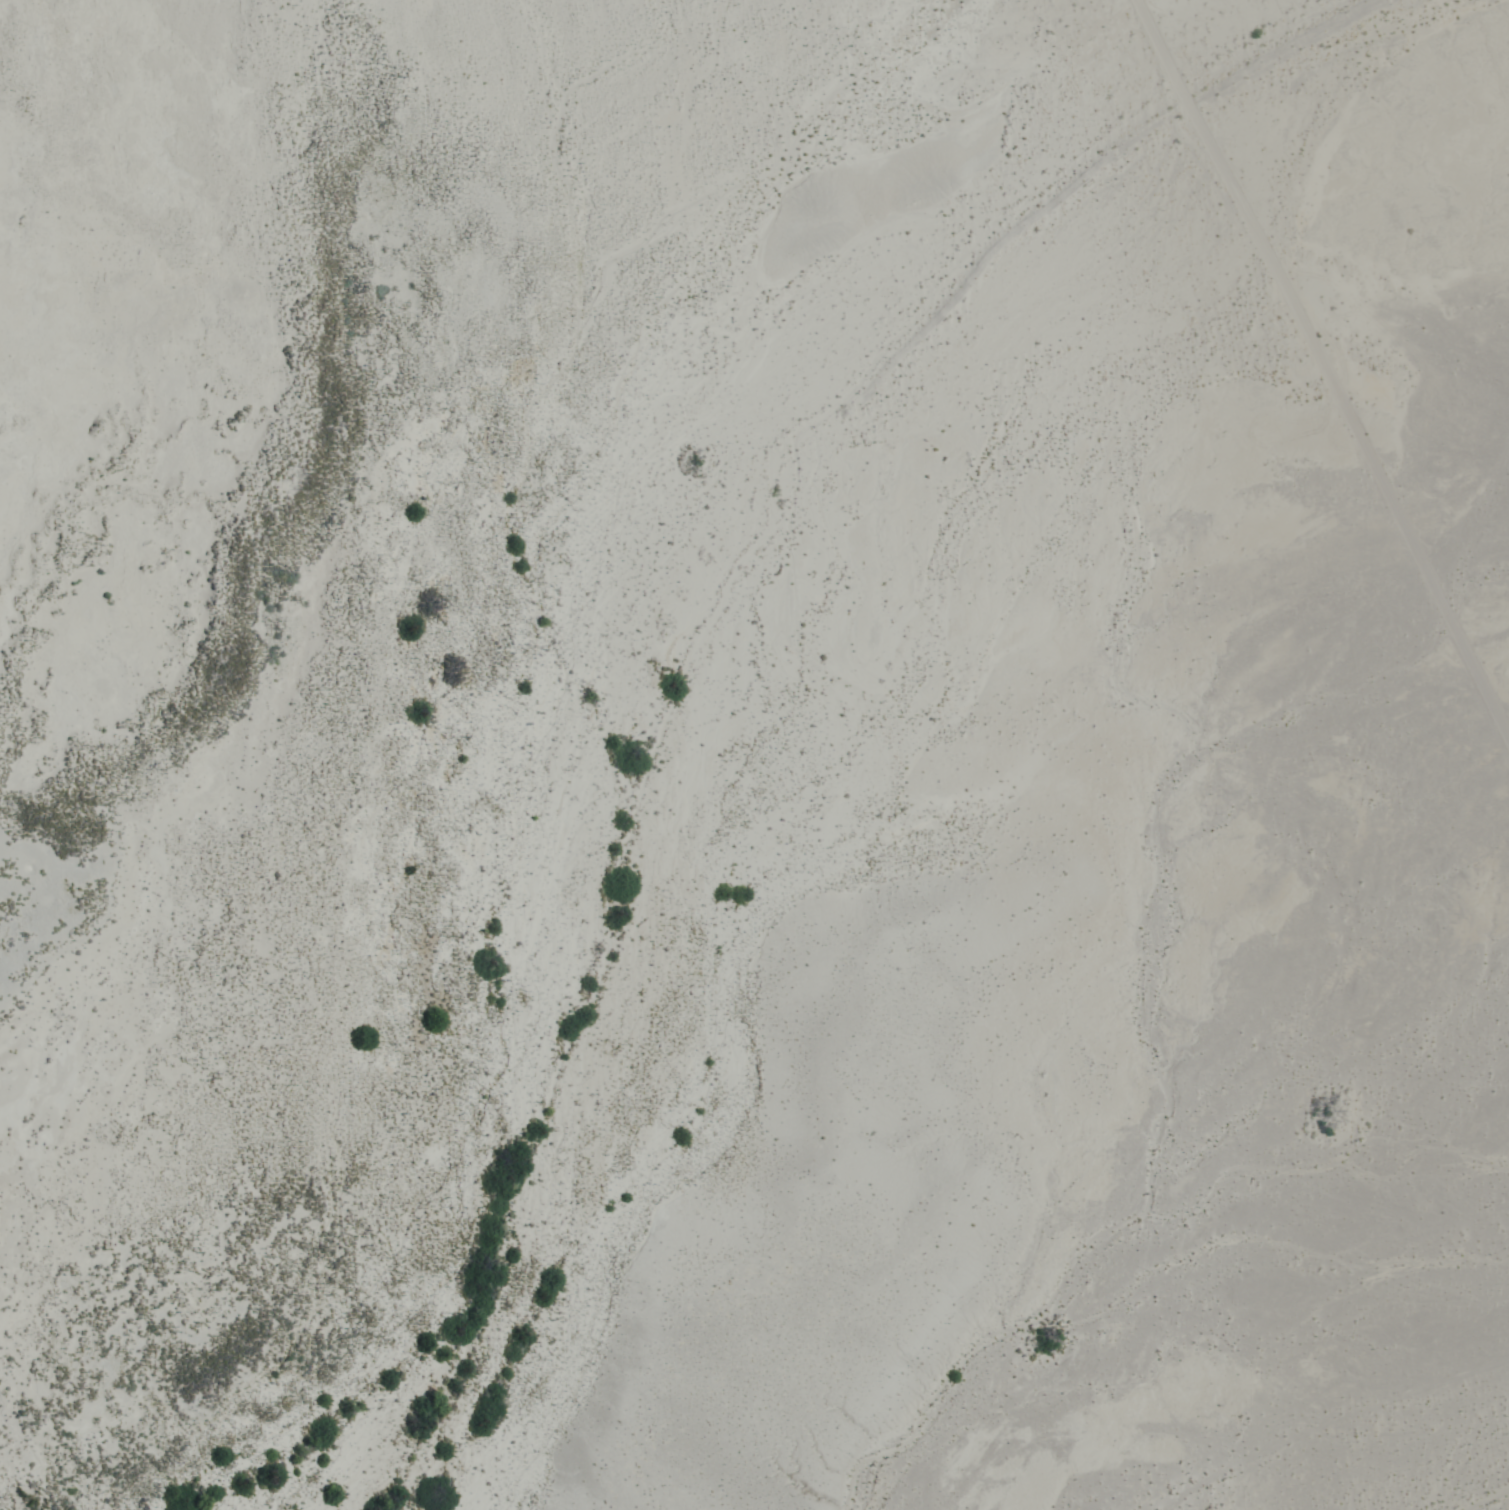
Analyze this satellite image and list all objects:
road: (1325, 369)

